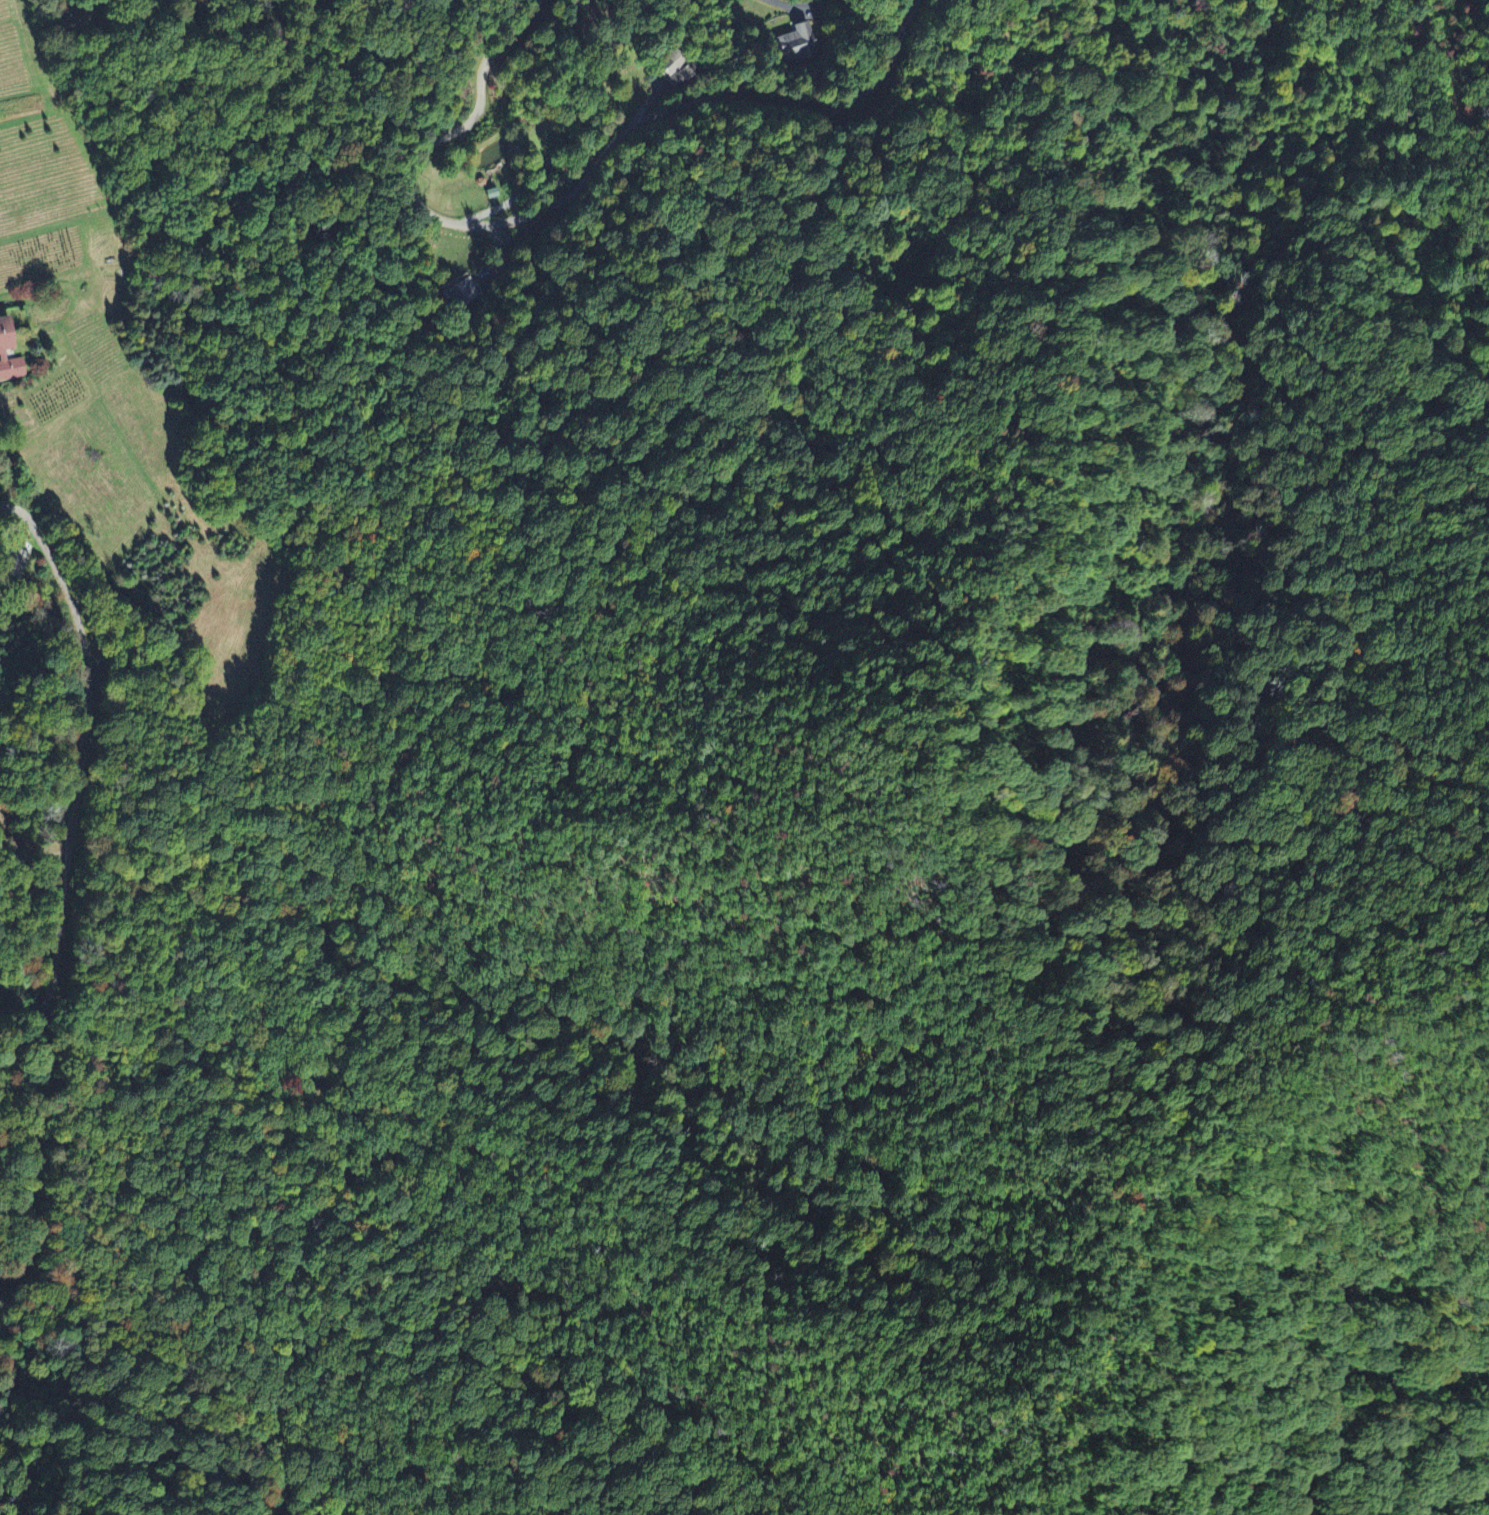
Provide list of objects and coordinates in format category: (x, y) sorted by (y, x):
building: (797, 46)
building: (678, 66)
building: (677, 82)
road: (584, 186)
building: (5, 351)
road: (86, 737)
road: (31, 848)
road: (25, 1012)

